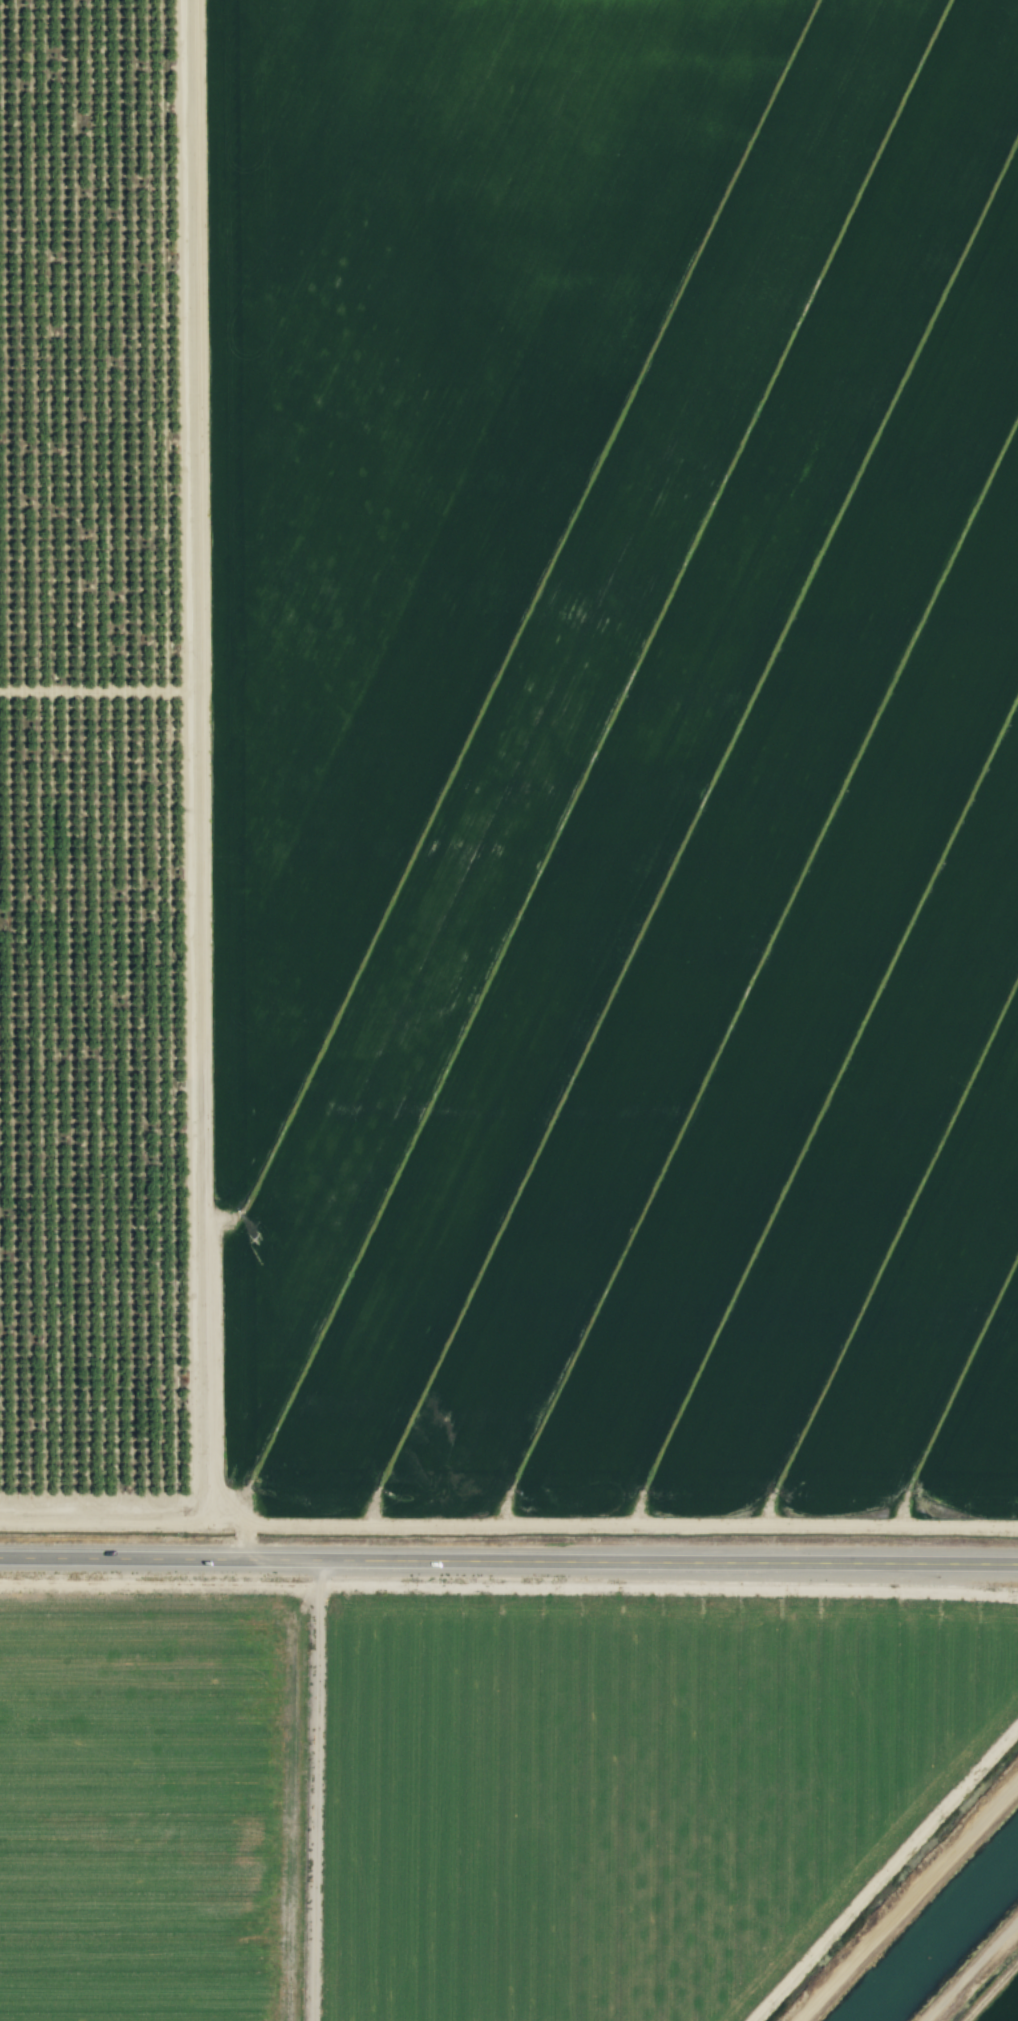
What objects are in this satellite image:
road: (508, 1564)
road: (970, 1970)

